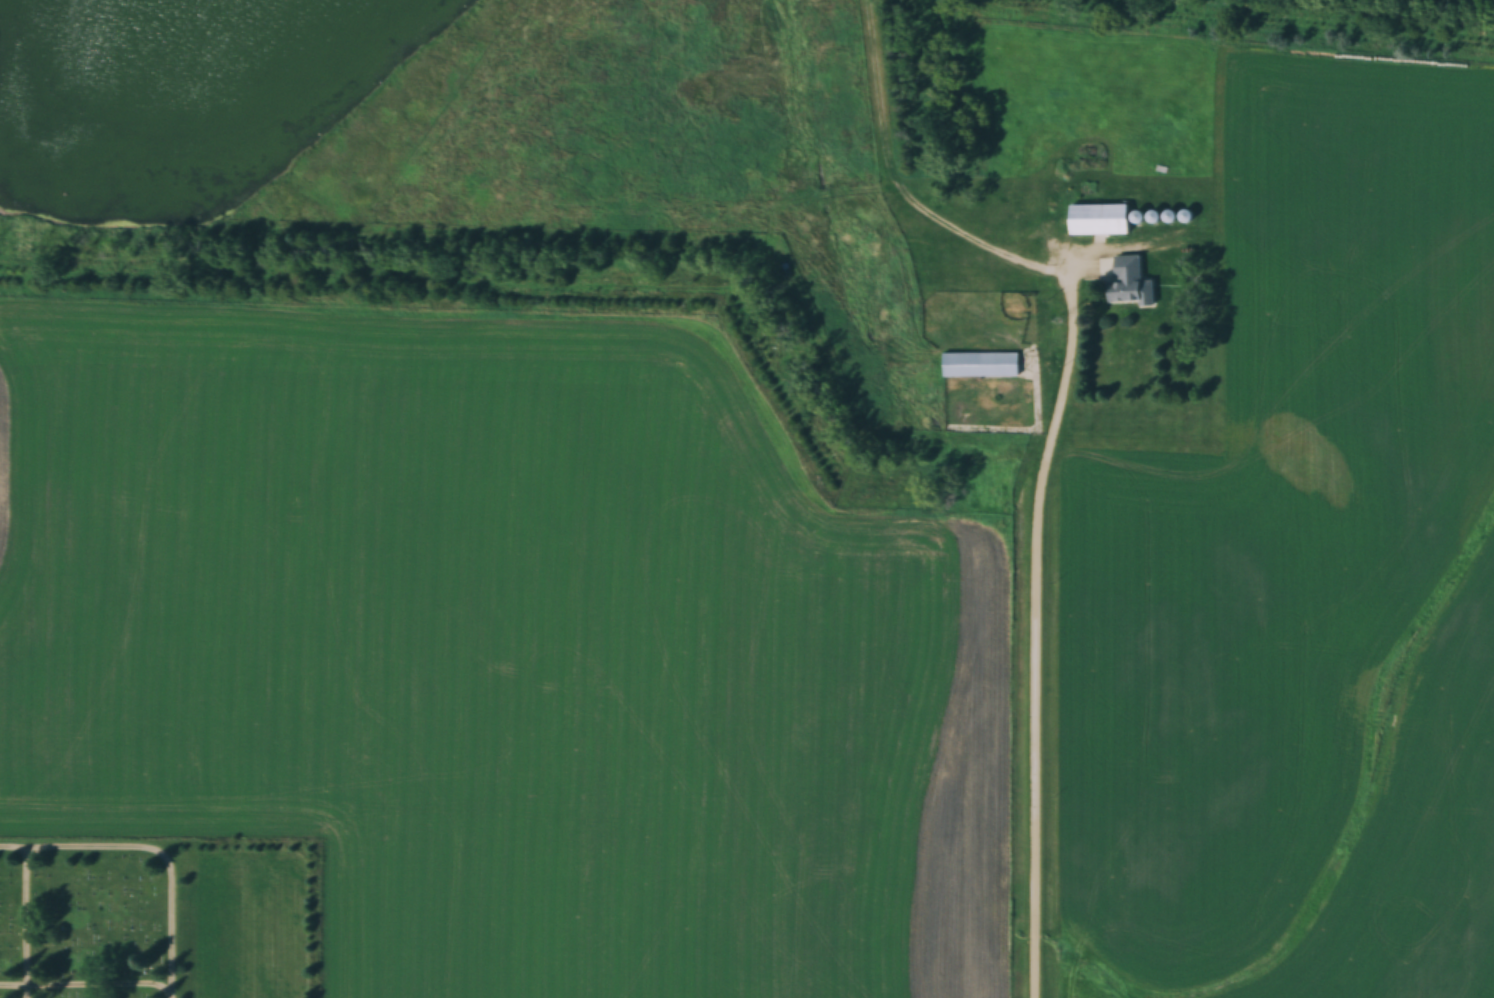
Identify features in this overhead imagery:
building: (1100, 219)
building: (1131, 282)
building: (981, 364)
road: (1034, 627)

